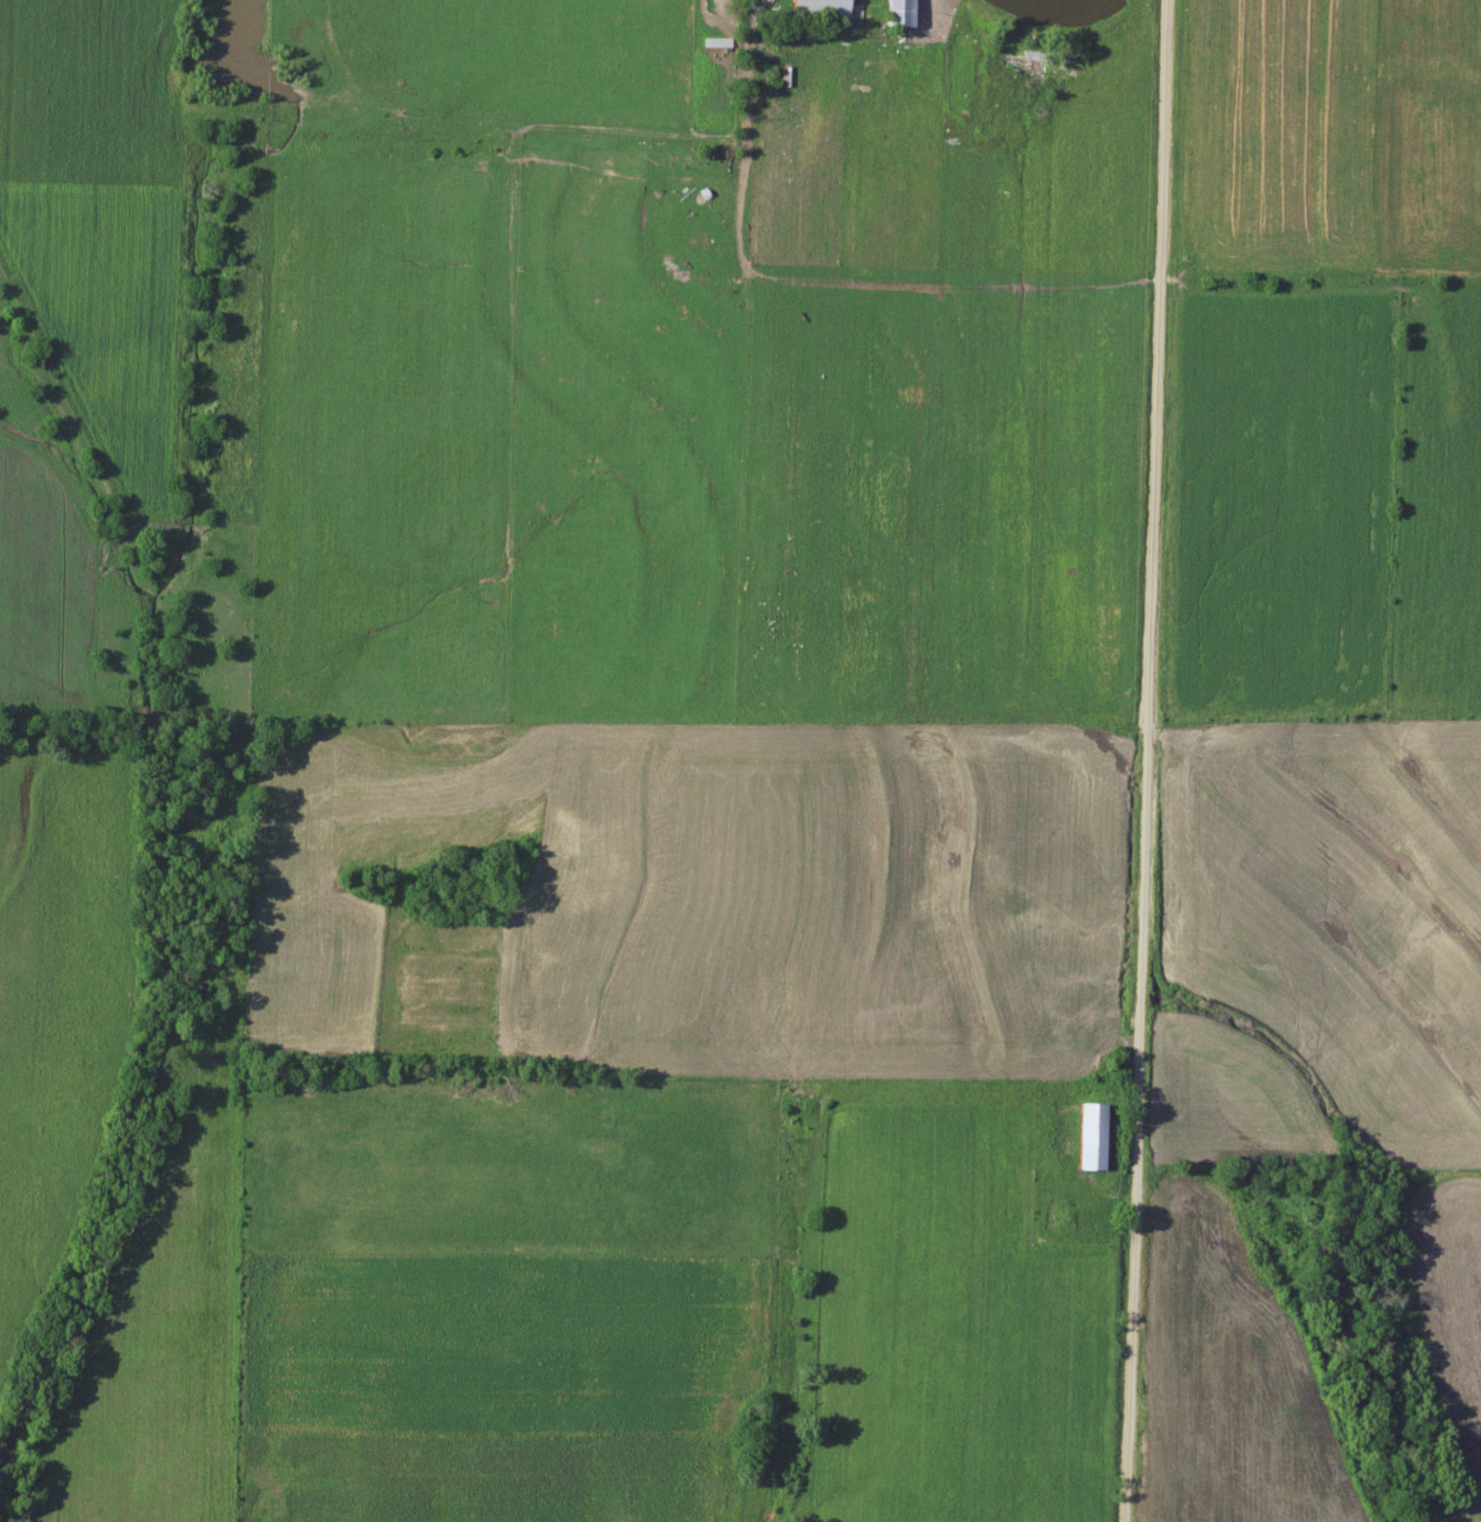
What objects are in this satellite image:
building: (812, 6)
building: (892, 13)
building: (958, 71)
road: (1147, 761)

